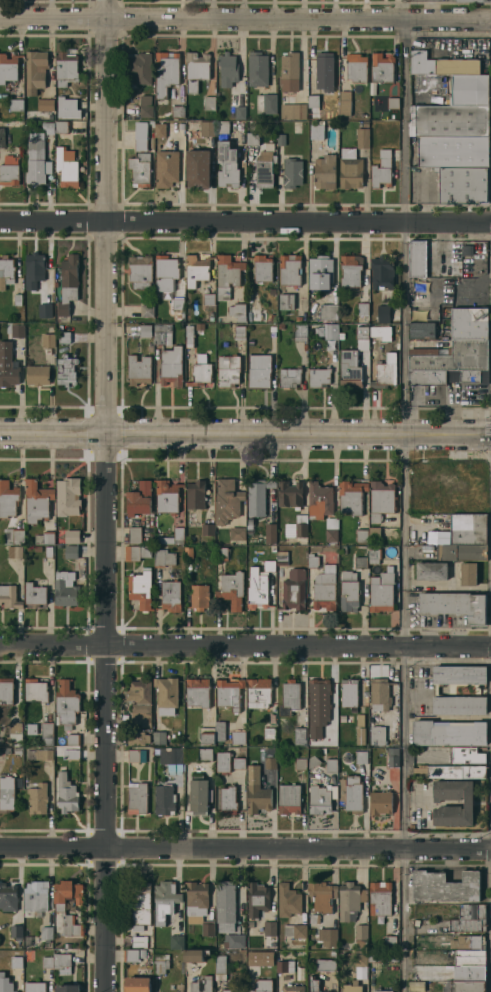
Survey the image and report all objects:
building: (470, 0)
road: (245, 21)
building: (441, 64)
building: (8, 67)
building: (356, 67)
building: (381, 67)
building: (65, 68)
building: (139, 68)
building: (227, 69)
building: (257, 69)
building: (196, 70)
building: (35, 71)
building: (166, 71)
building: (289, 71)
building: (324, 71)
building: (469, 89)
building: (313, 101)
building: (392, 102)
building: (209, 103)
building: (266, 103)
building: (344, 103)
building: (16, 104)
building: (45, 104)
building: (70, 104)
building: (145, 106)
building: (178, 111)
building: (299, 111)
road: (405, 111)
building: (239, 112)
building: (449, 120)
building: (151, 121)
building: (222, 126)
building: (48, 127)
building: (61, 127)
building: (206, 128)
building: (160, 129)
building: (316, 130)
building: (140, 135)
building: (363, 135)
building: (2, 137)
building: (252, 139)
building: (281, 139)
building: (452, 151)
building: (37, 159)
building: (227, 164)
building: (264, 166)
building: (166, 167)
building: (66, 168)
building: (197, 168)
building: (140, 169)
building: (9, 170)
building: (381, 170)
building: (325, 171)
building: (292, 172)
building: (350, 172)
building: (463, 184)
road: (245, 223)
building: (465, 249)
building: (416, 258)
building: (34, 263)
building: (262, 268)
building: (290, 269)
building: (196, 270)
building: (6, 271)
building: (140, 271)
building: (349, 271)
building: (382, 272)
building: (319, 274)
building: (227, 275)
building: (167, 278)
building: (68, 283)
building: (49, 286)
building: (208, 298)
building: (17, 299)
building: (286, 301)
building: (362, 308)
building: (146, 311)
building: (237, 311)
building: (328, 311)
building: (382, 313)
building: (371, 314)
building: (256, 315)
building: (298, 319)
building: (469, 323)
building: (199, 326)
building: (17, 330)
building: (145, 330)
building: (375, 330)
building: (421, 330)
building: (300, 331)
building: (331, 331)
building: (239, 332)
building: (362, 332)
building: (163, 334)
building: (63, 335)
building: (341, 335)
building: (188, 336)
building: (48, 340)
building: (451, 356)
building: (7, 366)
building: (171, 366)
building: (138, 369)
building: (349, 369)
building: (66, 370)
building: (227, 370)
building: (259, 371)
building: (200, 373)
building: (37, 375)
building: (382, 375)
building: (441, 376)
building: (289, 377)
building: (318, 377)
road: (245, 434)
building: (421, 471)
building: (466, 480)
building: (289, 494)
building: (195, 495)
building: (257, 495)
building: (67, 496)
road: (103, 496)
building: (166, 496)
building: (351, 496)
building: (8, 498)
building: (139, 498)
building: (381, 499)
building: (36, 500)
building: (227, 500)
building: (319, 500)
building: (456, 505)
building: (192, 517)
building: (249, 521)
building: (296, 527)
building: (468, 528)
building: (207, 529)
building: (361, 529)
building: (331, 530)
building: (178, 532)
building: (237, 533)
building: (269, 533)
building: (134, 534)
building: (13, 535)
building: (375, 535)
building: (71, 536)
building: (44, 537)
building: (194, 537)
building: (255, 540)
building: (36, 548)
building: (14, 551)
building: (48, 551)
building: (70, 551)
building: (461, 551)
building: (136, 552)
building: (188, 552)
building: (221, 553)
building: (374, 555)
building: (281, 556)
building: (163, 557)
building: (313, 560)
building: (360, 562)
building: (431, 570)
building: (467, 573)
building: (258, 585)
building: (65, 588)
building: (140, 588)
building: (294, 589)
building: (324, 589)
building: (231, 590)
building: (348, 591)
building: (381, 591)
building: (34, 594)
building: (170, 595)
building: (199, 596)
building: (9, 597)
building: (410, 598)
building: (456, 605)
road: (404, 607)
road: (245, 648)
building: (6, 690)
building: (35, 690)
building: (435, 690)
building: (197, 692)
building: (258, 692)
building: (349, 692)
building: (229, 693)
building: (166, 694)
building: (379, 694)
building: (289, 697)
building: (139, 700)
building: (65, 704)
building: (318, 705)
building: (361, 720)
building: (15, 727)
building: (220, 730)
building: (269, 732)
building: (46, 733)
building: (448, 733)
building: (207, 734)
building: (360, 734)
building: (377, 735)
building: (158, 737)
building: (238, 737)
building: (299, 737)
building: (137, 738)
building: (72, 739)
building: (17, 750)
building: (71, 753)
building: (39, 754)
building: (204, 754)
building: (466, 754)
building: (136, 756)
building: (360, 757)
building: (392, 757)
building: (270, 758)
building: (171, 759)
building: (312, 761)
building: (222, 762)
building: (238, 763)
building: (300, 763)
building: (330, 765)
building: (456, 772)
building: (256, 791)
building: (6, 793)
building: (66, 793)
building: (199, 794)
building: (353, 794)
building: (37, 798)
building: (136, 798)
building: (164, 799)
building: (288, 799)
building: (319, 799)
building: (228, 800)
building: (380, 802)
building: (468, 804)
road: (245, 846)
building: (444, 886)
building: (35, 895)
building: (321, 895)
building: (8, 897)
building: (379, 898)
building: (256, 899)
building: (164, 900)
building: (288, 900)
building: (349, 901)
building: (197, 905)
building: (225, 906)
building: (59, 908)
building: (471, 911)
building: (139, 912)
building: (313, 918)
building: (466, 925)
building: (269, 928)
building: (294, 930)
building: (16, 931)
building: (46, 932)
building: (360, 935)
building: (326, 936)
building: (176, 941)
building: (233, 941)
building: (389, 941)
building: (468, 942)
building: (142, 953)
building: (195, 954)
building: (130, 955)
building: (382, 955)
building: (260, 957)
building: (469, 957)
building: (360, 960)
building: (16, 961)
building: (47, 961)
building: (62, 963)
building: (160, 963)
building: (325, 965)
building: (284, 966)
building: (220, 967)
building: (469, 972)
building: (420, 977)
building: (137, 984)
building: (201, 984)
building: (314, 984)
building: (420, 986)
building: (465, 986)
building: (34, 987)
building: (351, 987)
building: (67, 988)
building: (257, 988)
building: (291, 988)
building: (231, 990)
building: (381, 990)
building: (12, 991)

